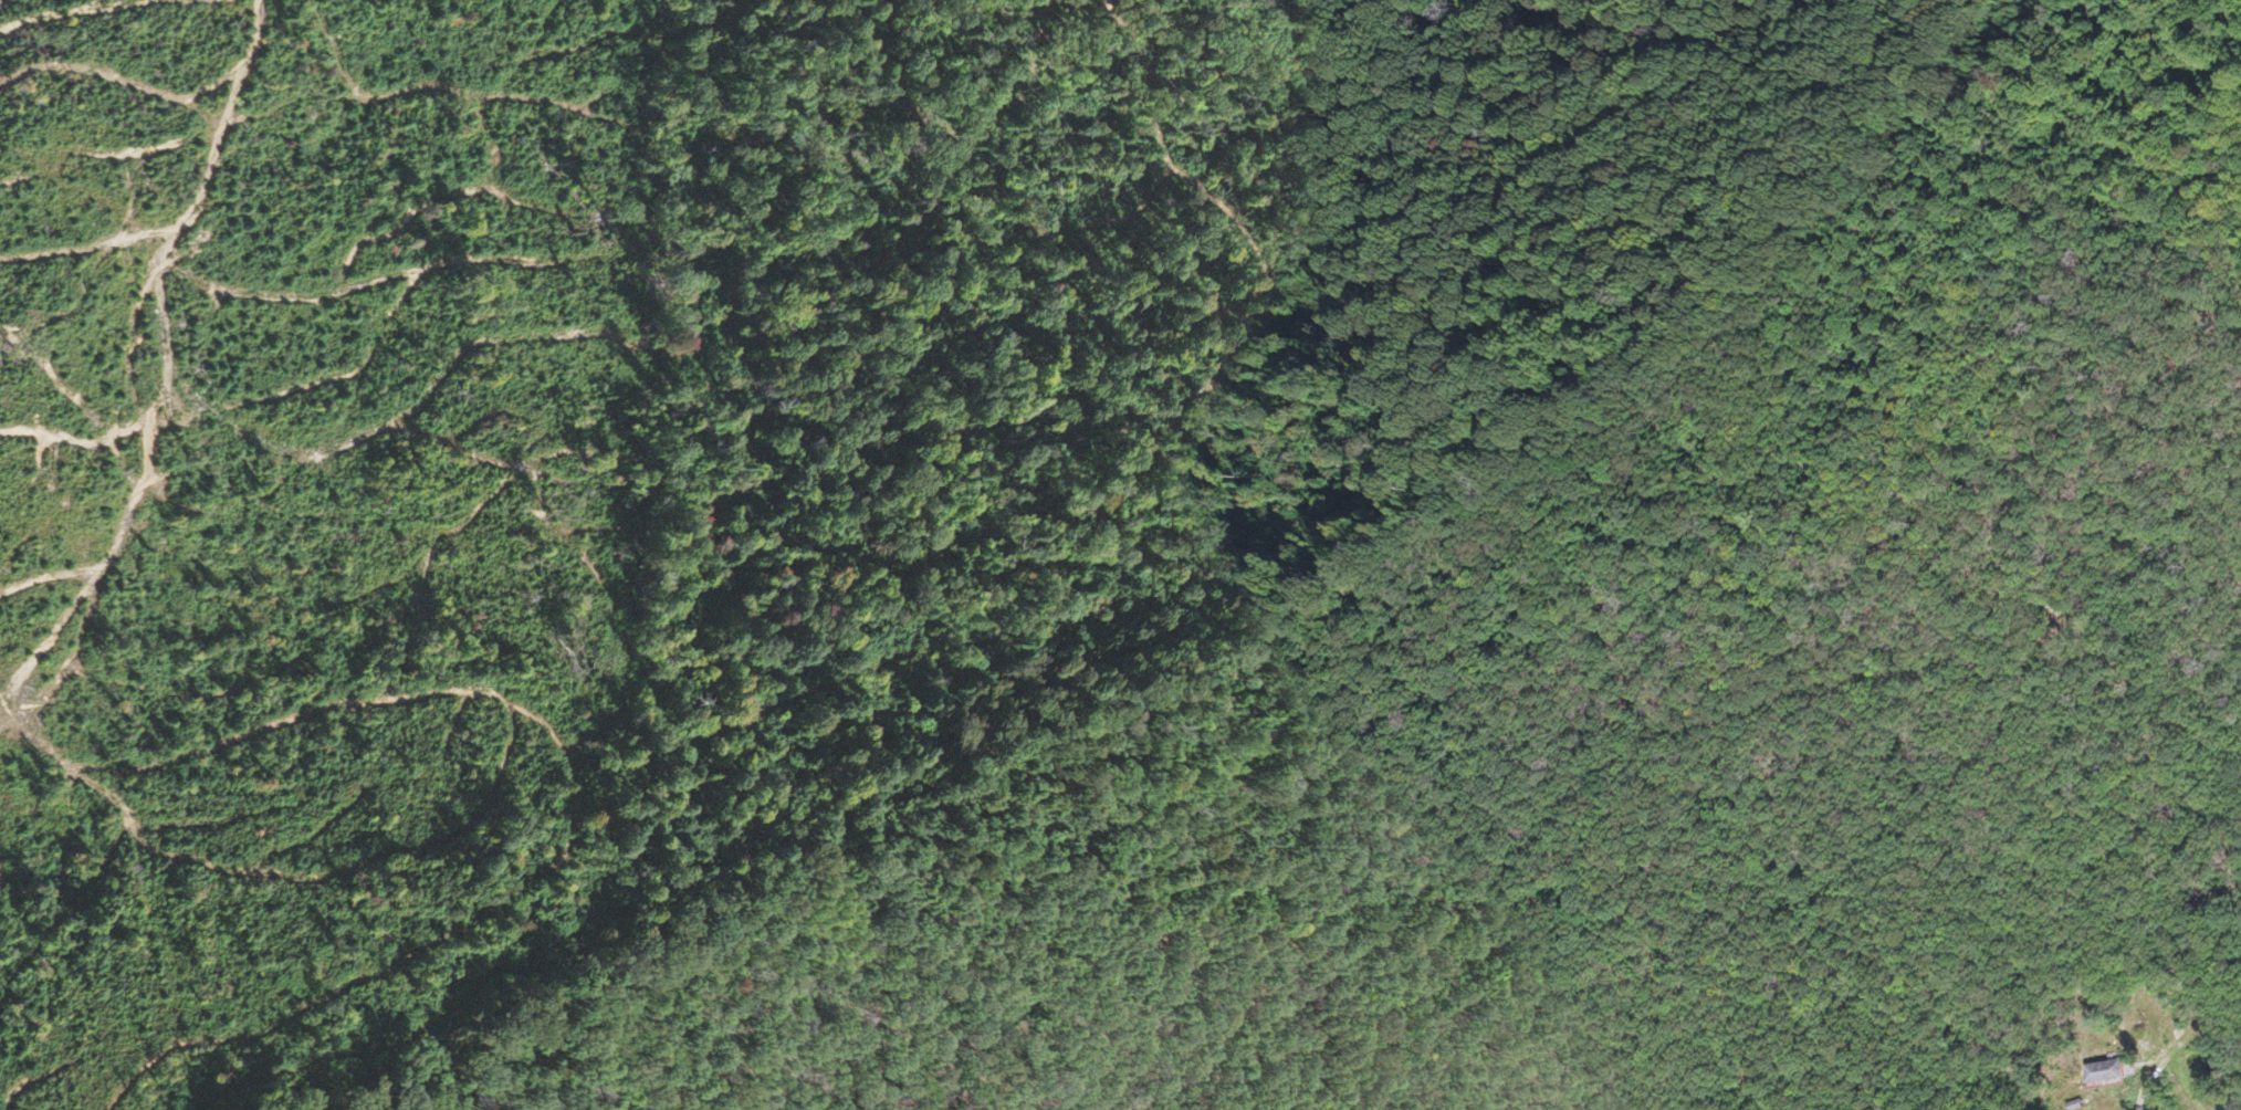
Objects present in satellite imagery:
building: (2105, 1071)

